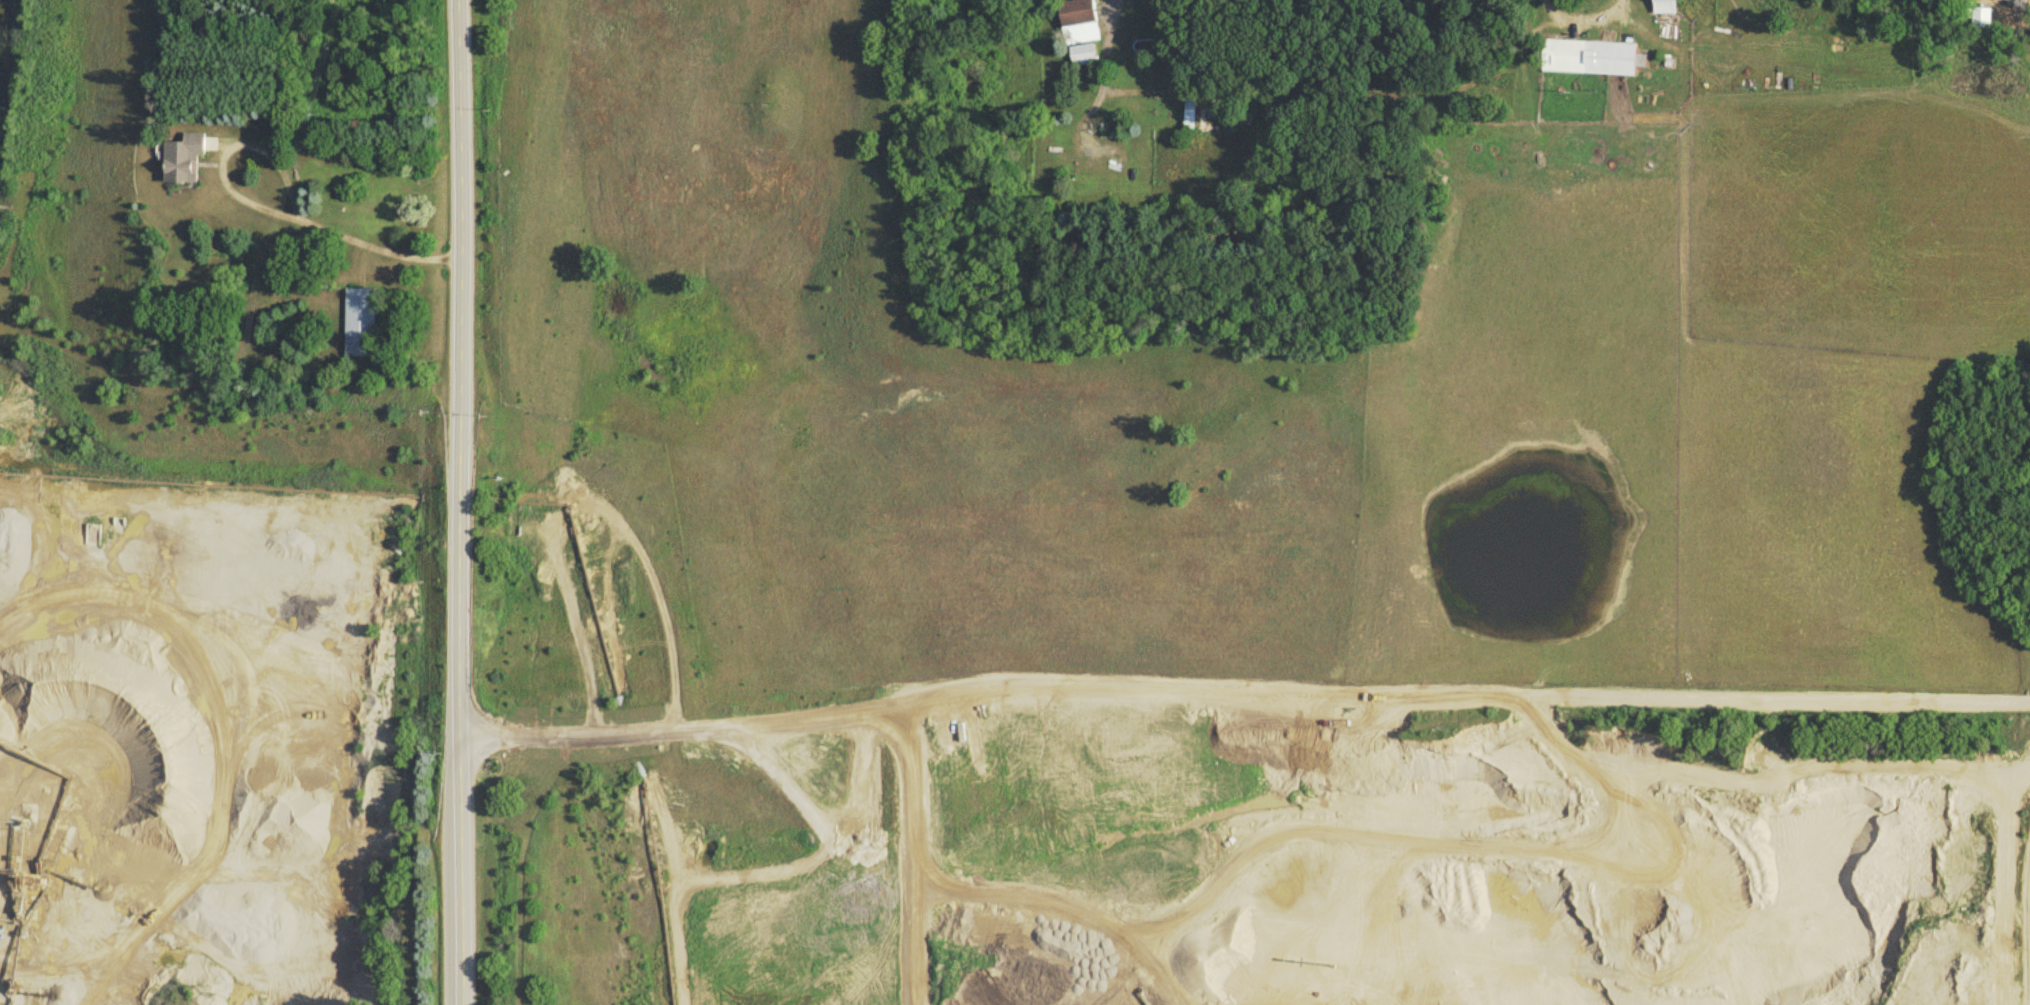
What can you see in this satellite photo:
building: (1666, 8)
road: (1582, 17)
building: (1081, 33)
road: (1108, 64)
building: (1191, 118)
building: (1217, 118)
building: (183, 162)
road: (263, 210)
building: (361, 326)
road: (468, 502)
road: (954, 756)

